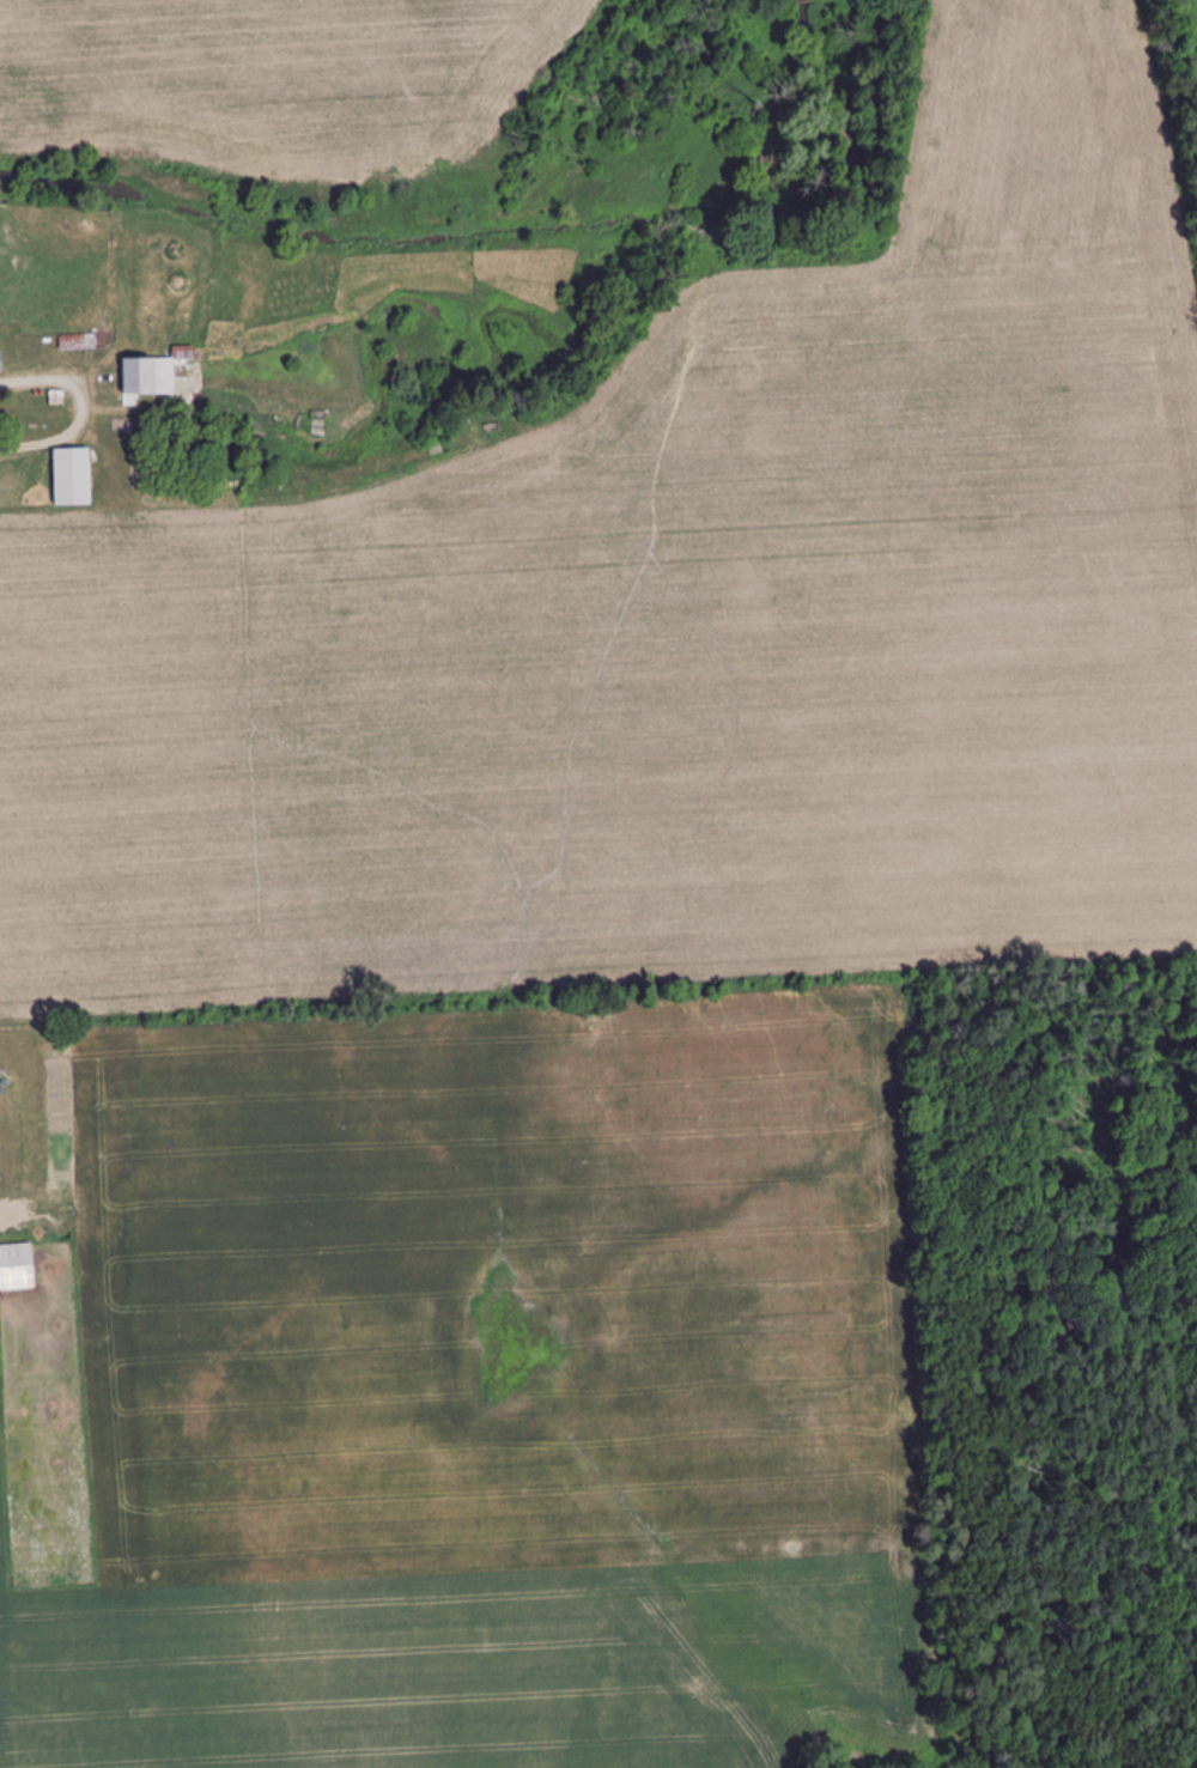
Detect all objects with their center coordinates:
crop: (272, 69)
building: (1, 363)
building: (154, 373)
building: (73, 476)
building: (1, 1088)
building: (17, 1266)

